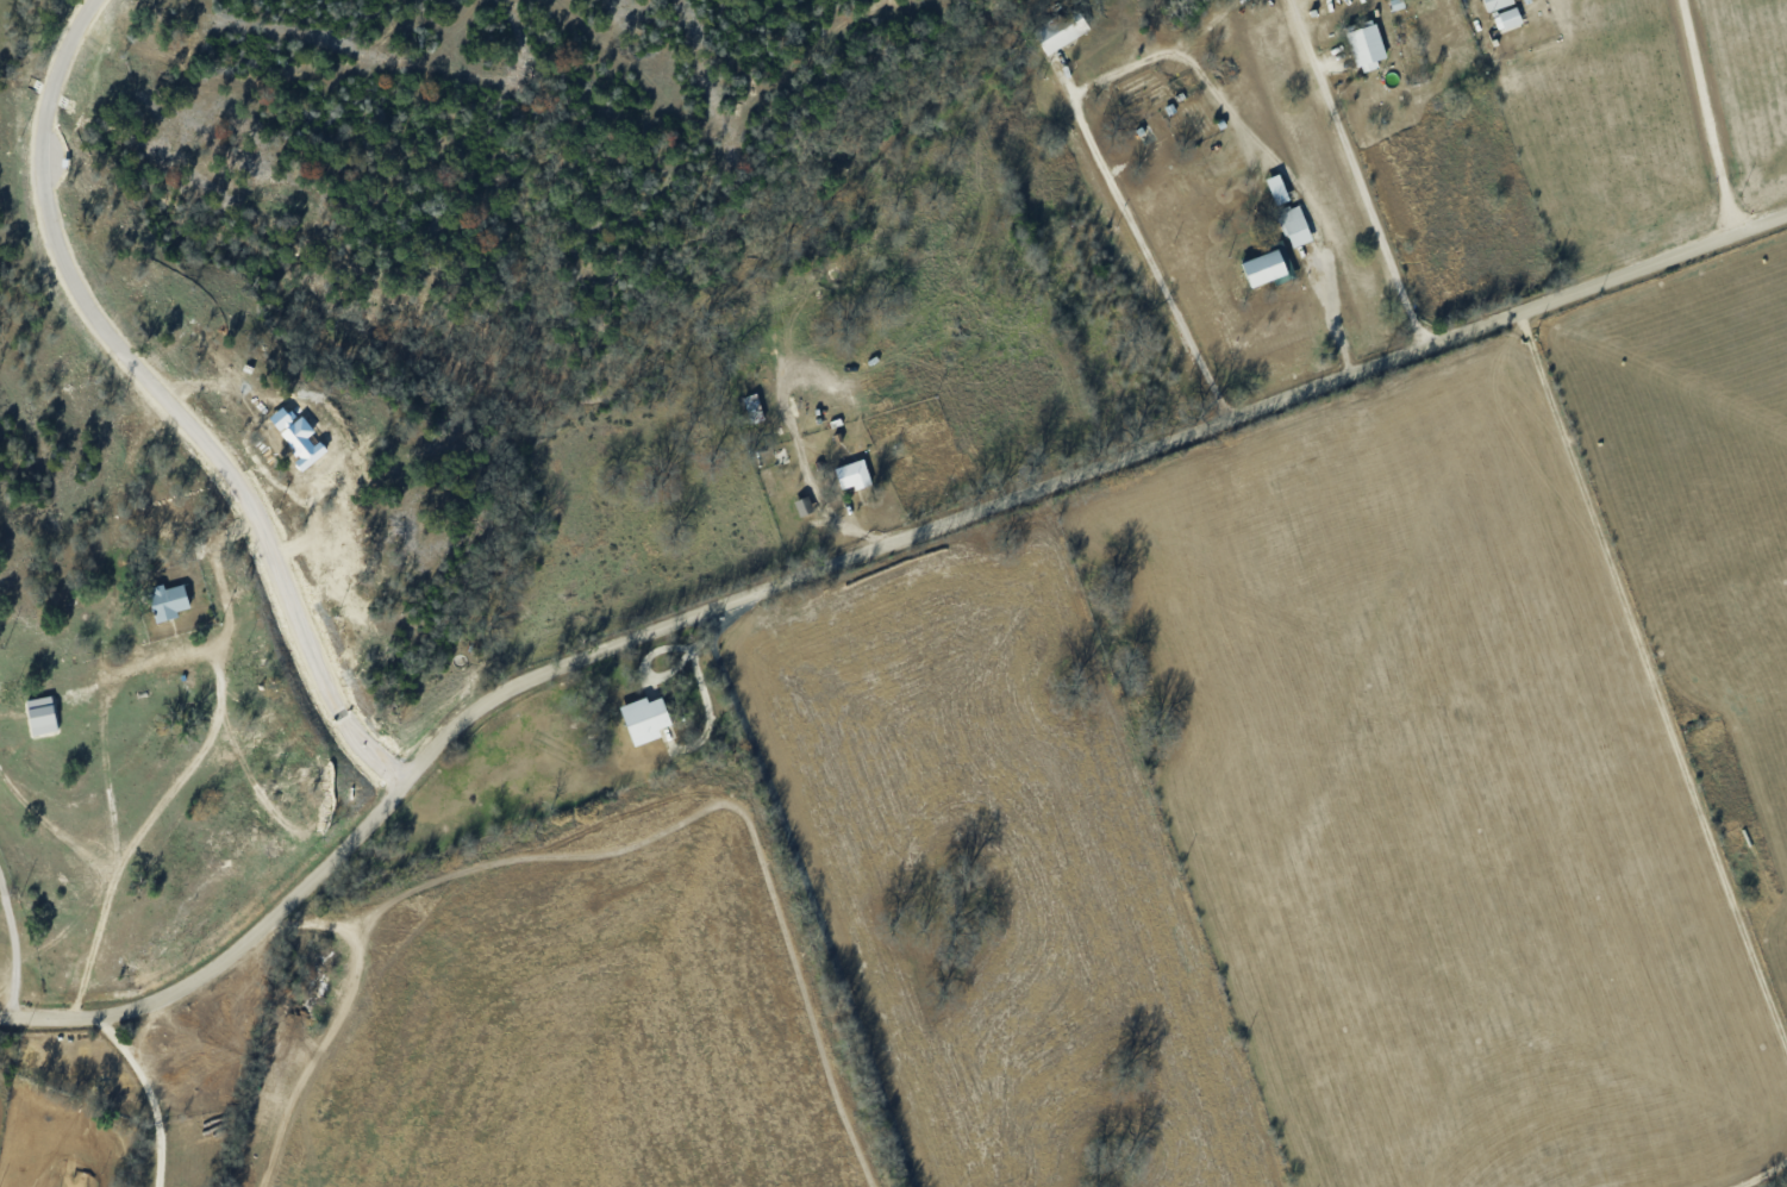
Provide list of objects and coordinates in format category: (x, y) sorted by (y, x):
building: (1498, 4)
building: (1508, 19)
building: (1060, 31)
building: (1368, 45)
road: (1132, 63)
road: (1705, 114)
road: (1362, 183)
building: (1279, 189)
building: (1296, 225)
building: (1268, 268)
road: (163, 404)
building: (854, 474)
building: (804, 506)
road: (851, 554)
road: (220, 583)
building: (169, 601)
road: (218, 707)
building: (645, 718)
road: (1399, 798)
road: (806, 888)
road: (73, 923)
road: (13, 948)
road: (143, 1024)
road: (148, 1093)

